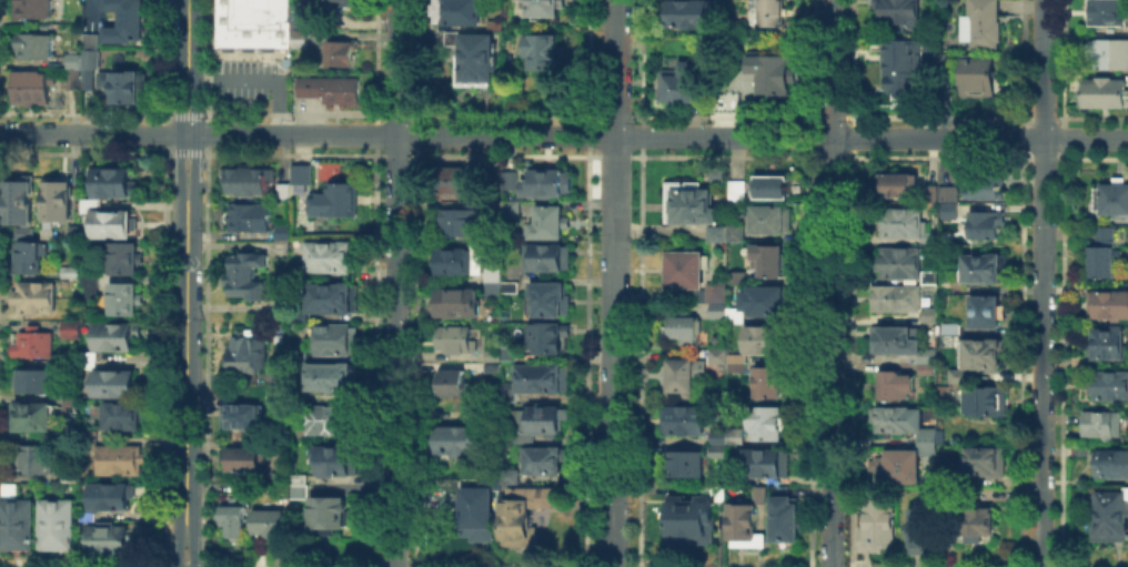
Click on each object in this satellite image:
building: (315, 1)
building: (346, 1)
road: (91, 6)
building: (544, 7)
building: (32, 8)
building: (896, 10)
building: (464, 12)
building: (773, 12)
building: (1106, 12)
building: (299, 13)
building: (692, 13)
parking lot: (91, 16)
building: (123, 20)
building: (253, 23)
building: (981, 23)
building: (299, 37)
building: (89, 40)
road: (187, 40)
building: (32, 43)
building: (341, 51)
building: (1108, 51)
building: (545, 55)
building: (941, 57)
building: (480, 59)
building: (72, 60)
building: (902, 62)
building: (87, 65)
building: (772, 71)
building: (977, 75)
building: (71, 78)
parking lot: (249, 79)
road: (259, 80)
building: (678, 81)
building: (122, 84)
building: (29, 85)
building: (329, 87)
building: (1101, 91)
building: (718, 102)
traffic signals: (179, 109)
road: (188, 115)
road: (180, 132)
road: (197, 133)
road: (564, 135)
road: (188, 151)
traffic signals: (197, 155)
building: (302, 172)
building: (715, 172)
building: (251, 182)
building: (113, 183)
building: (457, 183)
building: (511, 183)
building: (768, 184)
building: (898, 184)
building: (546, 185)
building: (286, 189)
building: (736, 189)
building: (987, 189)
building: (930, 191)
building: (949, 193)
building: (1111, 196)
building: (688, 201)
building: (60, 203)
building: (339, 203)
building: (21, 204)
building: (512, 210)
building: (951, 210)
building: (768, 216)
building: (252, 220)
building: (897, 220)
building: (112, 223)
building: (550, 224)
building: (460, 225)
building: (989, 227)
building: (734, 229)
building: (80, 232)
building: (715, 232)
building: (929, 234)
building: (30, 254)
building: (1107, 256)
building: (332, 257)
building: (768, 257)
building: (127, 260)
building: (897, 261)
building: (553, 262)
building: (462, 263)
building: (685, 267)
building: (984, 270)
building: (72, 274)
building: (249, 274)
building: (735, 275)
building: (929, 275)
building: (496, 282)
road: (395, 283)
road: (615, 283)
road: (832, 283)
road: (1041, 283)
building: (92, 286)
building: (1072, 286)
building: (511, 288)
building: (715, 291)
building: (697, 293)
building: (895, 296)
building: (36, 298)
building: (765, 298)
building: (336, 300)
building: (128, 301)
building: (1109, 302)
building: (552, 303)
building: (460, 305)
building: (716, 308)
building: (929, 312)
building: (734, 313)
building: (298, 314)
building: (989, 314)
building: (682, 324)
building: (949, 326)
building: (75, 334)
building: (764, 337)
building: (895, 338)
building: (121, 340)
building: (459, 341)
building: (546, 341)
building: (340, 342)
building: (1107, 342)
building: (36, 344)
building: (246, 354)
building: (515, 355)
building: (717, 355)
road: (185, 356)
building: (735, 356)
building: (925, 356)
building: (1078, 358)
building: (493, 360)
building: (983, 361)
building: (91, 363)
building: (735, 366)
building: (925, 367)
building: (494, 372)
building: (683, 373)
building: (336, 379)
building: (768, 379)
building: (543, 381)
building: (894, 383)
building: (34, 384)
building: (118, 385)
building: (455, 385)
building: (1109, 386)
building: (508, 395)
building: (73, 402)
building: (990, 403)
building: (243, 416)
building: (125, 417)
building: (895, 417)
building: (34, 418)
building: (683, 418)
building: (334, 422)
building: (765, 422)
building: (541, 425)
building: (1106, 427)
building: (717, 435)
building: (734, 435)
building: (927, 438)
building: (462, 439)
building: (92, 441)
building: (714, 449)
building: (1078, 449)
building: (36, 457)
building: (121, 462)
building: (246, 462)
building: (684, 462)
building: (764, 462)
building: (1112, 462)
building: (544, 463)
building: (987, 463)
building: (340, 464)
building: (899, 464)
building: (68, 473)
building: (511, 477)
building: (732, 478)
building: (9, 488)
building: (302, 488)
building: (716, 492)
building: (758, 492)
building: (112, 497)
building: (528, 509)
building: (477, 510)
building: (1108, 510)
building: (330, 515)
building: (234, 517)
building: (688, 518)
building: (784, 519)
building: (975, 519)
building: (17, 523)
building: (742, 524)
building: (875, 524)
building: (60, 525)
building: (268, 525)
building: (923, 527)
building: (111, 541)
road: (194, 544)
road: (178, 545)

